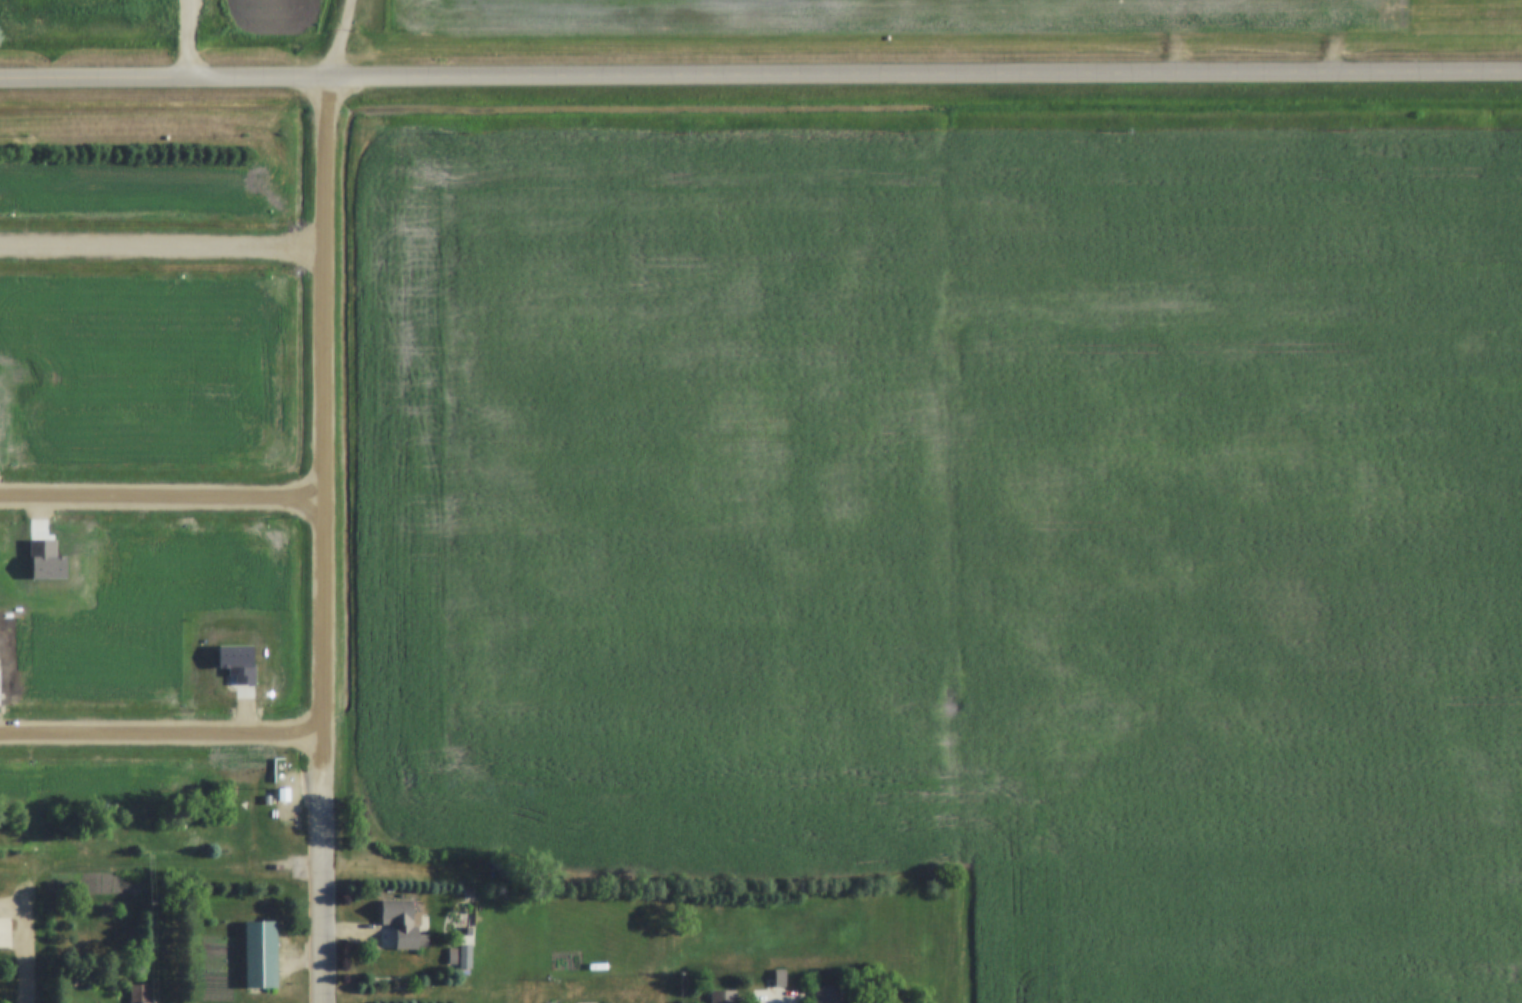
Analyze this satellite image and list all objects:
road: (338, 40)
road: (760, 77)
road: (324, 429)
building: (283, 794)
building: (268, 800)
road: (322, 889)
building: (402, 923)
road: (29, 949)
building: (261, 954)
building: (452, 959)
building: (779, 978)
building: (140, 994)
building: (827, 995)
building: (723, 996)
parking lot: (774, 996)

